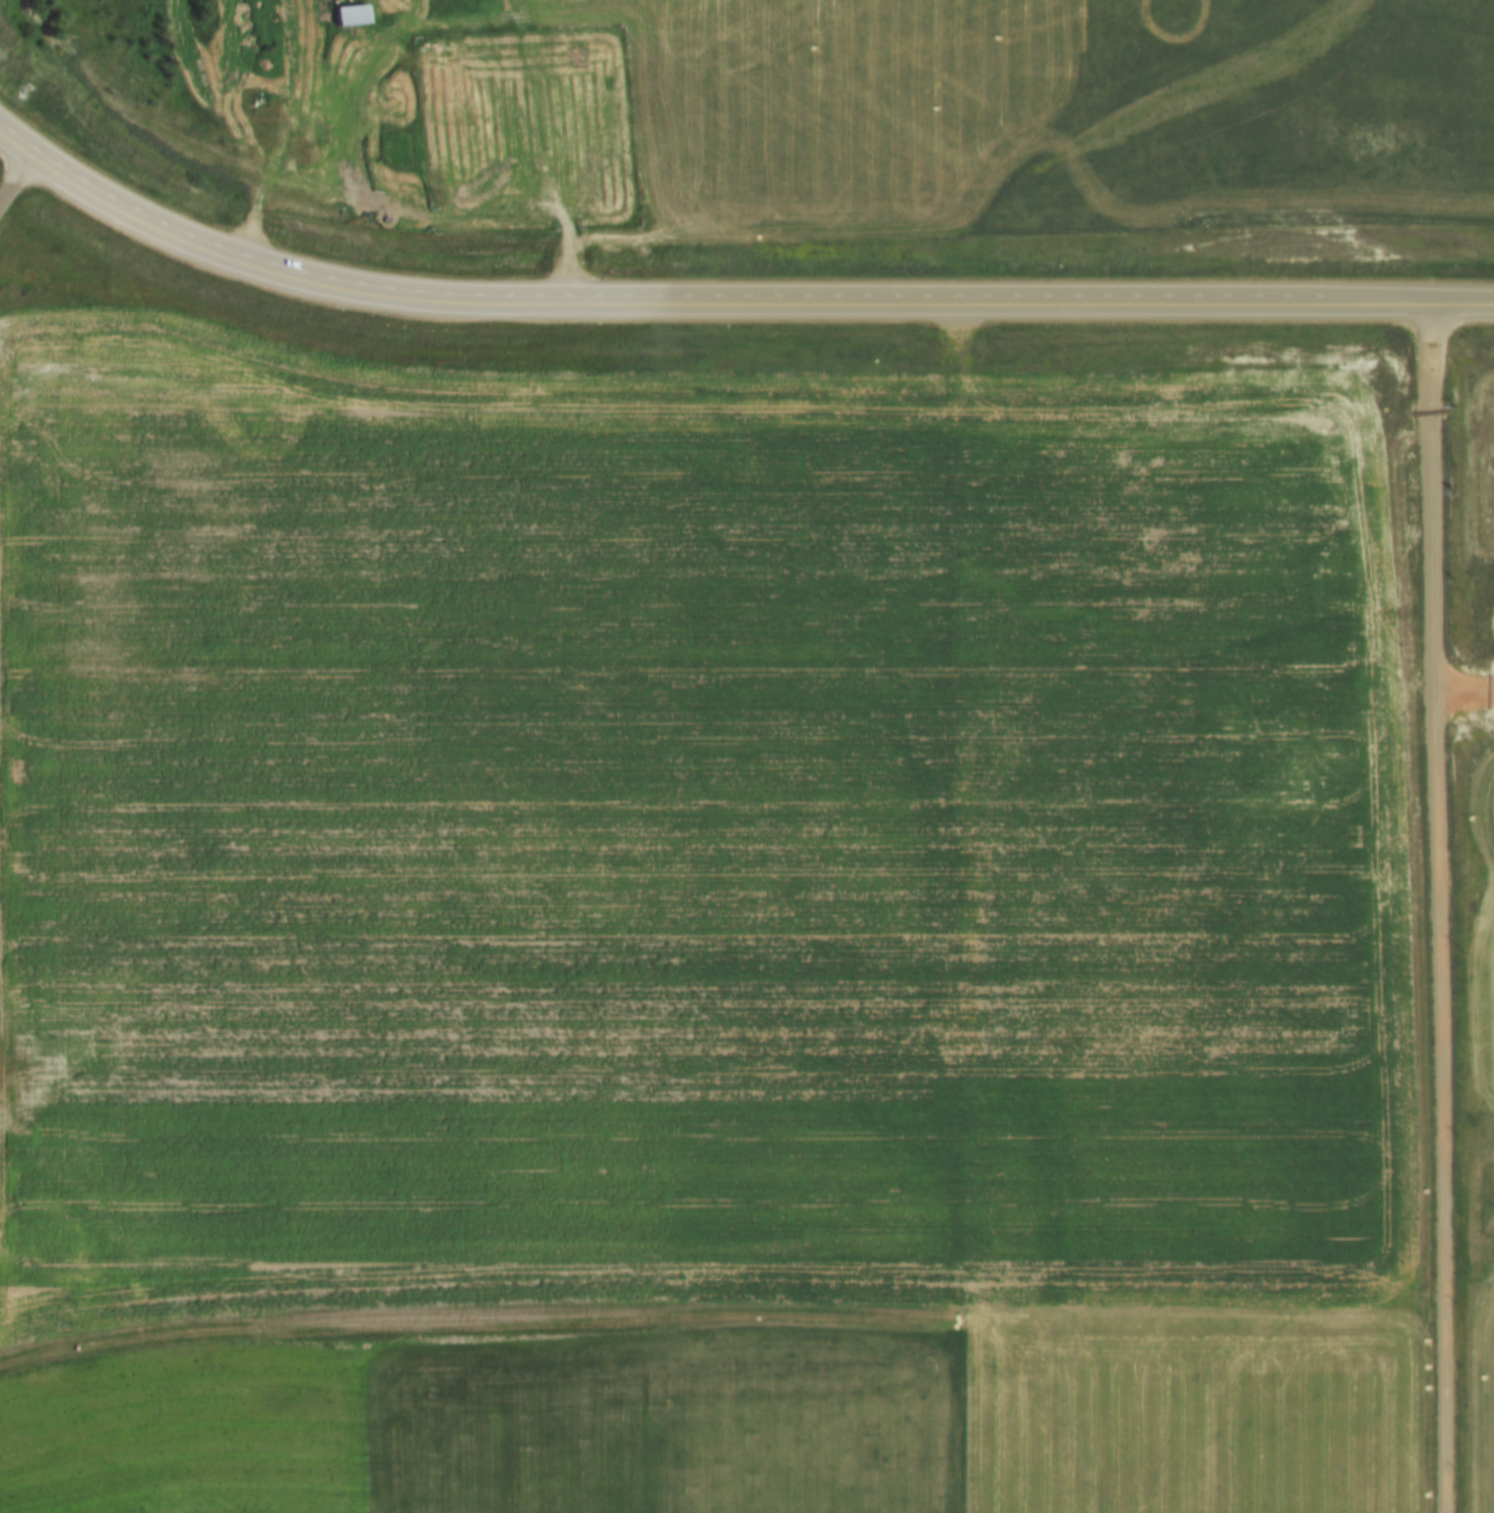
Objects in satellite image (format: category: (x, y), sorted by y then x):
building: (350, 16)
road: (276, 146)
road: (12, 179)
road: (727, 299)
road: (1464, 695)
road: (945, 906)
road: (1436, 907)

